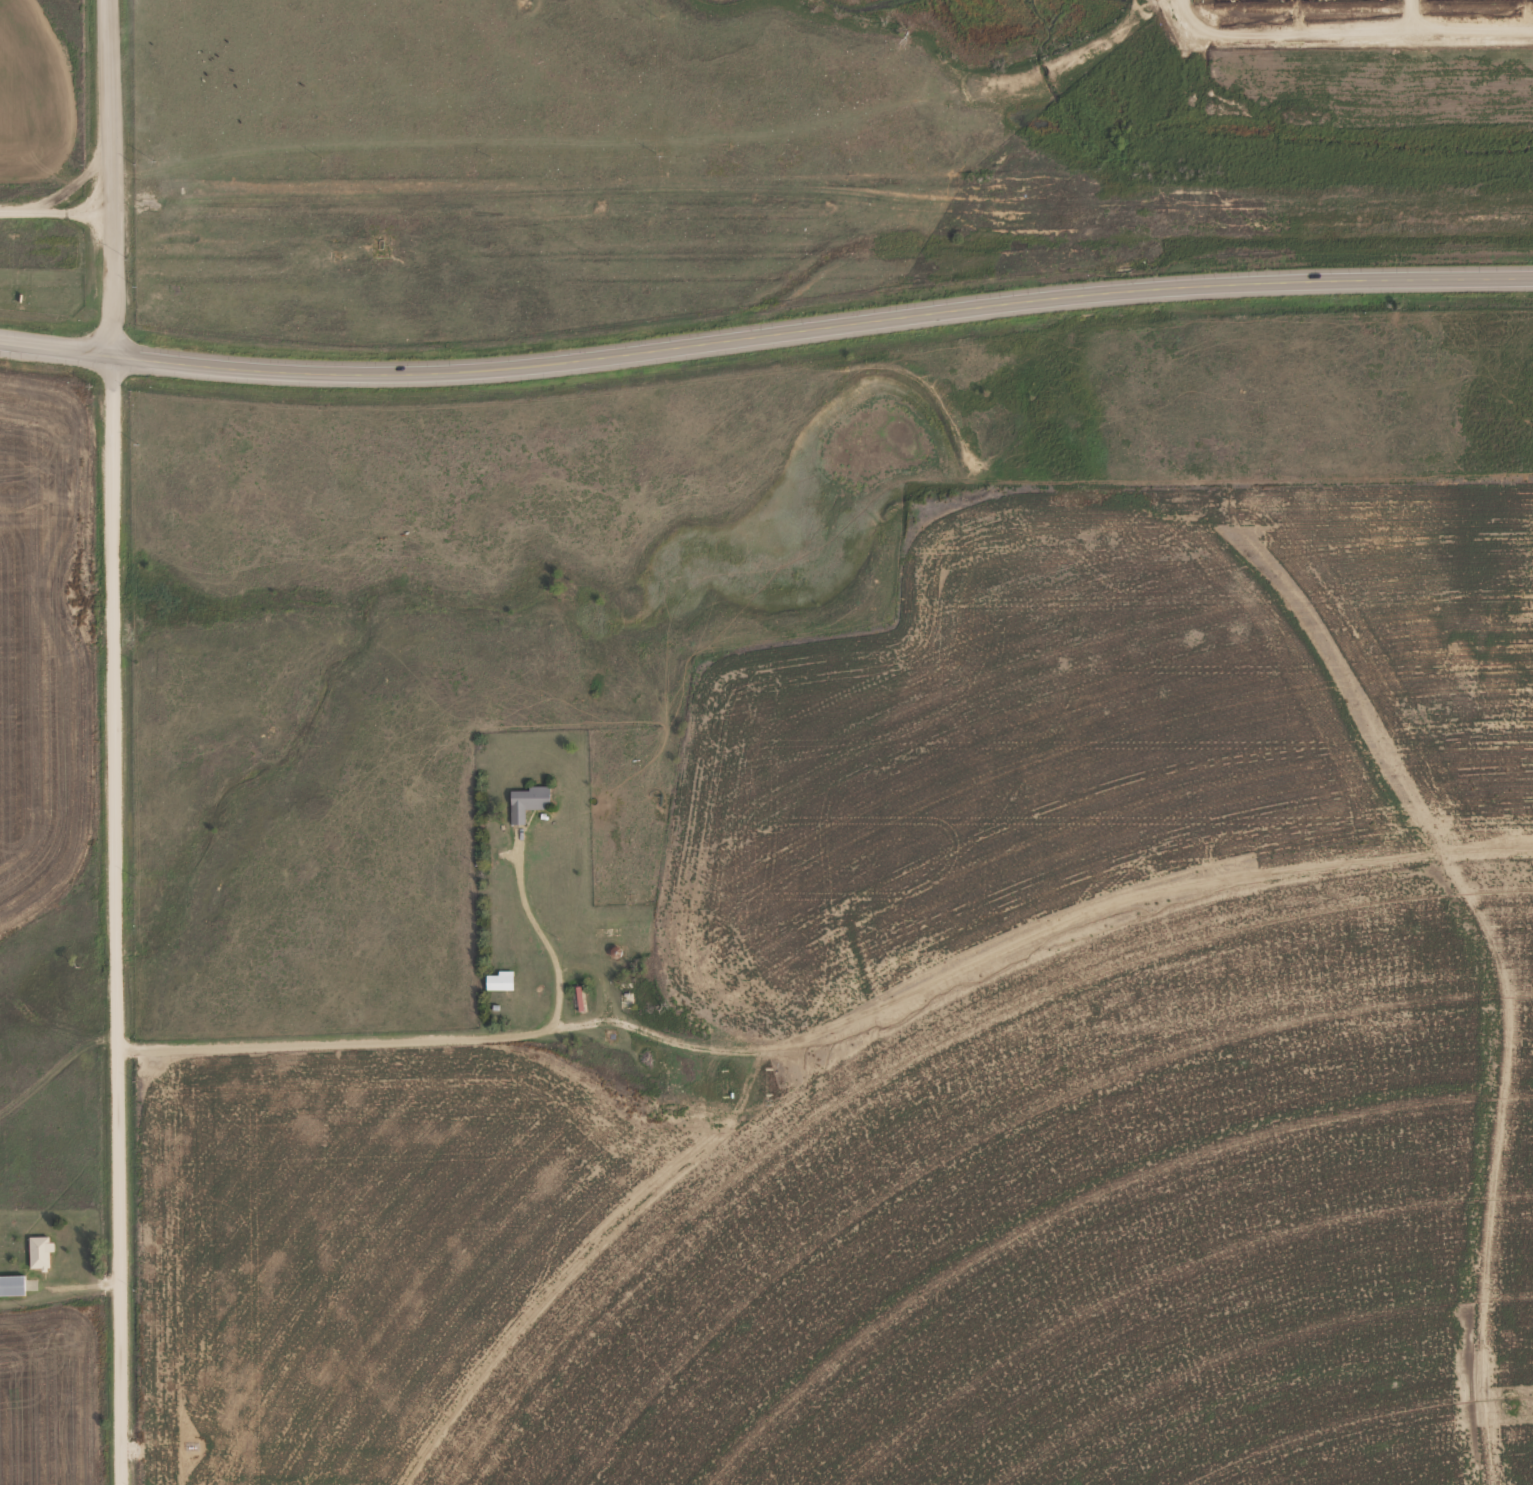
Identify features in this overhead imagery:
road: (1376, 13)
road: (1352, 25)
crop: (1320, 49)
road: (765, 340)
road: (121, 742)
building: (525, 803)
building: (497, 982)
building: (38, 1252)
building: (11, 1285)

